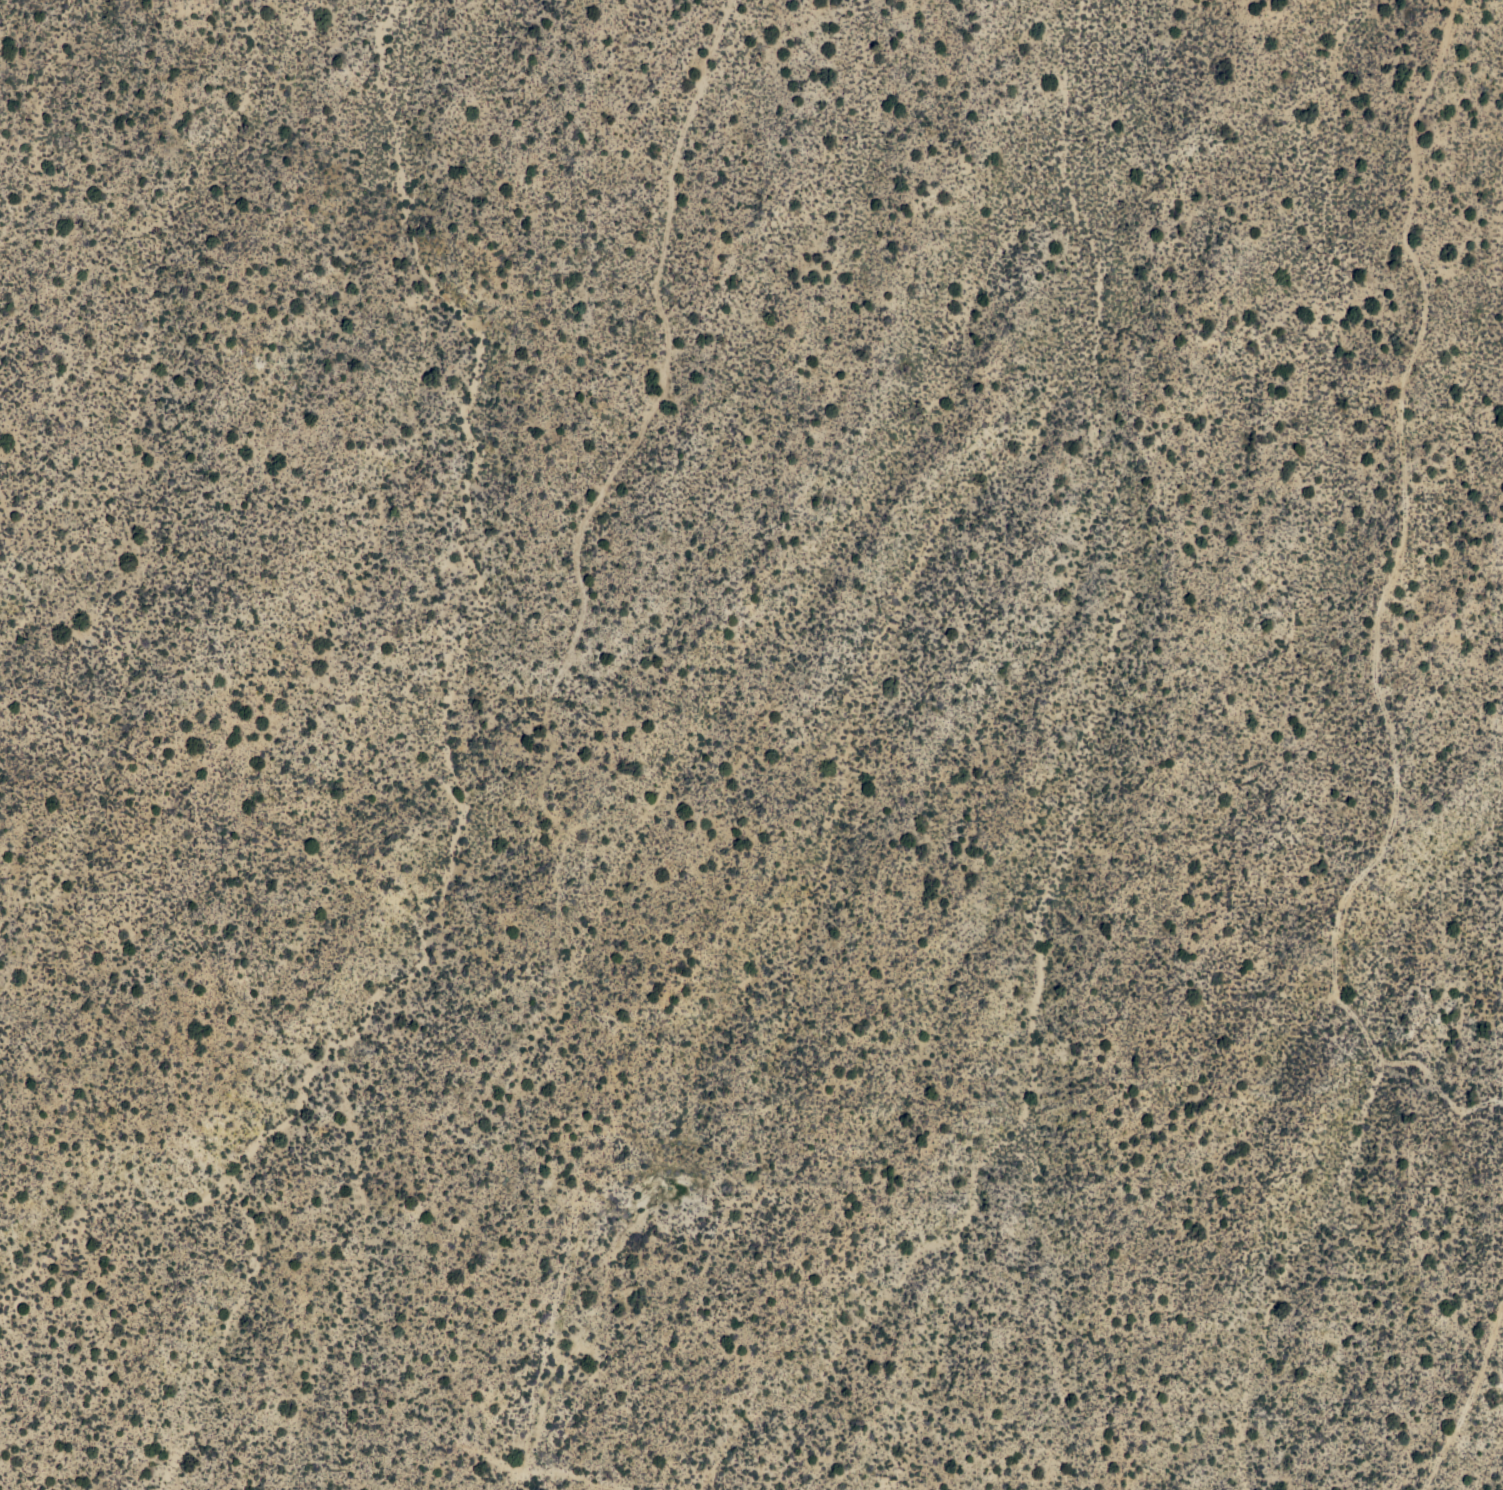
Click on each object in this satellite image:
road: (1071, 978)

